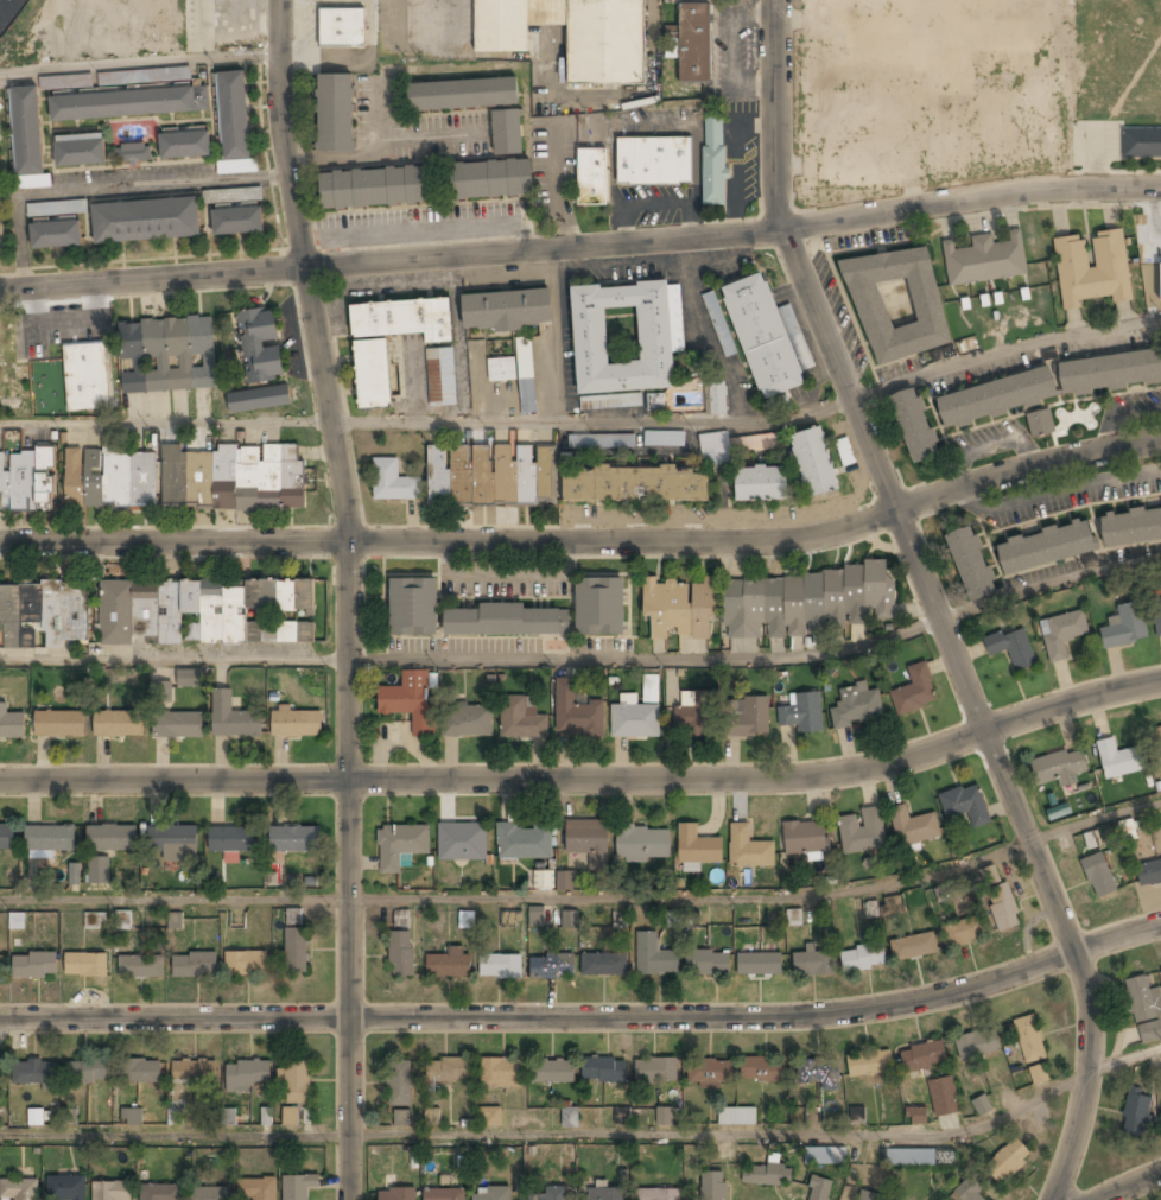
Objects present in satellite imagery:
building: (341, 27)
building: (570, 34)
building: (932, 42)
building: (692, 43)
road: (137, 64)
building: (144, 75)
building: (463, 94)
building: (129, 104)
building: (0, 107)
building: (336, 113)
building: (234, 115)
building: (27, 131)
building: (507, 132)
building: (1142, 142)
building: (185, 145)
building: (80, 152)
building: (133, 154)
building: (653, 160)
building: (713, 160)
building: (592, 177)
building: (491, 179)
road: (144, 184)
building: (375, 186)
building: (57, 207)
building: (146, 221)
building: (239, 221)
building: (56, 235)
road: (19, 240)
road: (580, 246)
building: (986, 260)
building: (1092, 268)
road: (302, 271)
building: (897, 303)
building: (507, 310)
road: (823, 316)
building: (404, 318)
building: (719, 323)
building: (655, 335)
building: (763, 336)
building: (261, 344)
building: (169, 355)
building: (1110, 373)
building: (373, 374)
building: (518, 374)
building: (85, 376)
building: (442, 377)
building: (6, 381)
building: (259, 398)
building: (997, 399)
building: (611, 400)
building: (655, 400)
building: (1040, 421)
building: (914, 426)
road: (588, 427)
building: (664, 437)
building: (601, 440)
building: (760, 442)
building: (715, 446)
building: (814, 463)
building: (491, 475)
building: (110, 478)
building: (233, 478)
building: (27, 481)
building: (393, 482)
building: (635, 485)
building: (761, 485)
building: (1131, 527)
road: (586, 541)
building: (1046, 547)
building: (971, 564)
road: (1048, 585)
building: (806, 602)
building: (413, 605)
building: (599, 607)
building: (680, 609)
building: (199, 611)
building: (44, 614)
building: (1157, 617)
building: (507, 621)
building: (1125, 627)
building: (1062, 634)
building: (743, 645)
building: (1013, 647)
road: (471, 659)
building: (189, 679)
building: (651, 687)
building: (161, 691)
building: (915, 691)
building: (410, 700)
building: (857, 706)
building: (576, 712)
building: (802, 712)
building: (233, 717)
building: (749, 718)
building: (521, 719)
building: (694, 719)
building: (469, 720)
building: (635, 720)
building: (11, 724)
building: (59, 724)
building: (119, 724)
building: (178, 724)
building: (296, 724)
building: (1157, 743)
building: (1118, 760)
building: (1059, 768)
road: (588, 780)
building: (966, 805)
road: (1095, 823)
building: (913, 827)
building: (1127, 828)
building: (863, 831)
building: (7, 837)
building: (807, 837)
building: (50, 838)
building: (112, 838)
building: (233, 839)
building: (293, 839)
building: (588, 839)
building: (173, 842)
building: (462, 842)
building: (1093, 842)
building: (524, 843)
building: (643, 844)
building: (400, 845)
building: (698, 846)
building: (748, 849)
building: (99, 870)
road: (347, 870)
building: (74, 874)
building: (1149, 874)
building: (990, 876)
building: (1098, 876)
building: (540, 878)
building: (564, 880)
road: (518, 897)
road: (1055, 903)
building: (1003, 907)
building: (535, 915)
building: (794, 916)
building: (401, 918)
building: (570, 918)
building: (122, 919)
building: (509, 919)
building: (17, 920)
building: (94, 920)
building: (175, 920)
building: (963, 932)
building: (914, 947)
building: (296, 950)
building: (401, 953)
building: (654, 955)
building: (862, 959)
building: (246, 963)
building: (708, 963)
building: (85, 964)
building: (196, 964)
building: (450, 964)
building: (605, 964)
building: (760, 964)
building: (813, 964)
building: (34, 965)
building: (500, 966)
building: (552, 966)
building: (1160, 966)
building: (1, 967)
building: (139, 967)
building: (1146, 1009)
road: (586, 1017)
building: (1029, 1039)
building: (977, 1043)
building: (922, 1056)
building: (869, 1064)
building: (655, 1069)
building: (762, 1069)
building: (449, 1071)
building: (604, 1071)
building: (34, 1072)
building: (89, 1072)
building: (141, 1072)
building: (552, 1072)
building: (710, 1072)
building: (818, 1072)
building: (501, 1073)
building: (1038, 1074)
building: (1, 1075)
building: (246, 1075)
building: (192, 1077)
building: (298, 1082)
building: (400, 1082)
building: (943, 1097)
building: (982, 1106)
building: (176, 1113)
building: (1136, 1113)
building: (432, 1115)
building: (664, 1115)
building: (857, 1115)
building: (36, 1116)
building: (69, 1116)
building: (228, 1116)
building: (490, 1116)
building: (570, 1116)
building: (737, 1116)
building: (916, 1116)
building: (132, 1117)
building: (290, 1117)
building: (401, 1117)
road: (589, 1136)
building: (825, 1156)
building: (918, 1158)
building: (1008, 1161)
building: (767, 1175)
building: (298, 1186)
building: (712, 1186)
road: (1133, 1187)
building: (68, 1188)
building: (19, 1189)
building: (256, 1189)
building: (819, 1189)
building: (112, 1191)
building: (160, 1192)
building: (969, 1192)
building: (208, 1194)
building: (396, 1194)
building: (444, 1194)
building: (491, 1194)
building: (551, 1194)
building: (607, 1194)
building: (658, 1195)
building: (869, 1195)

